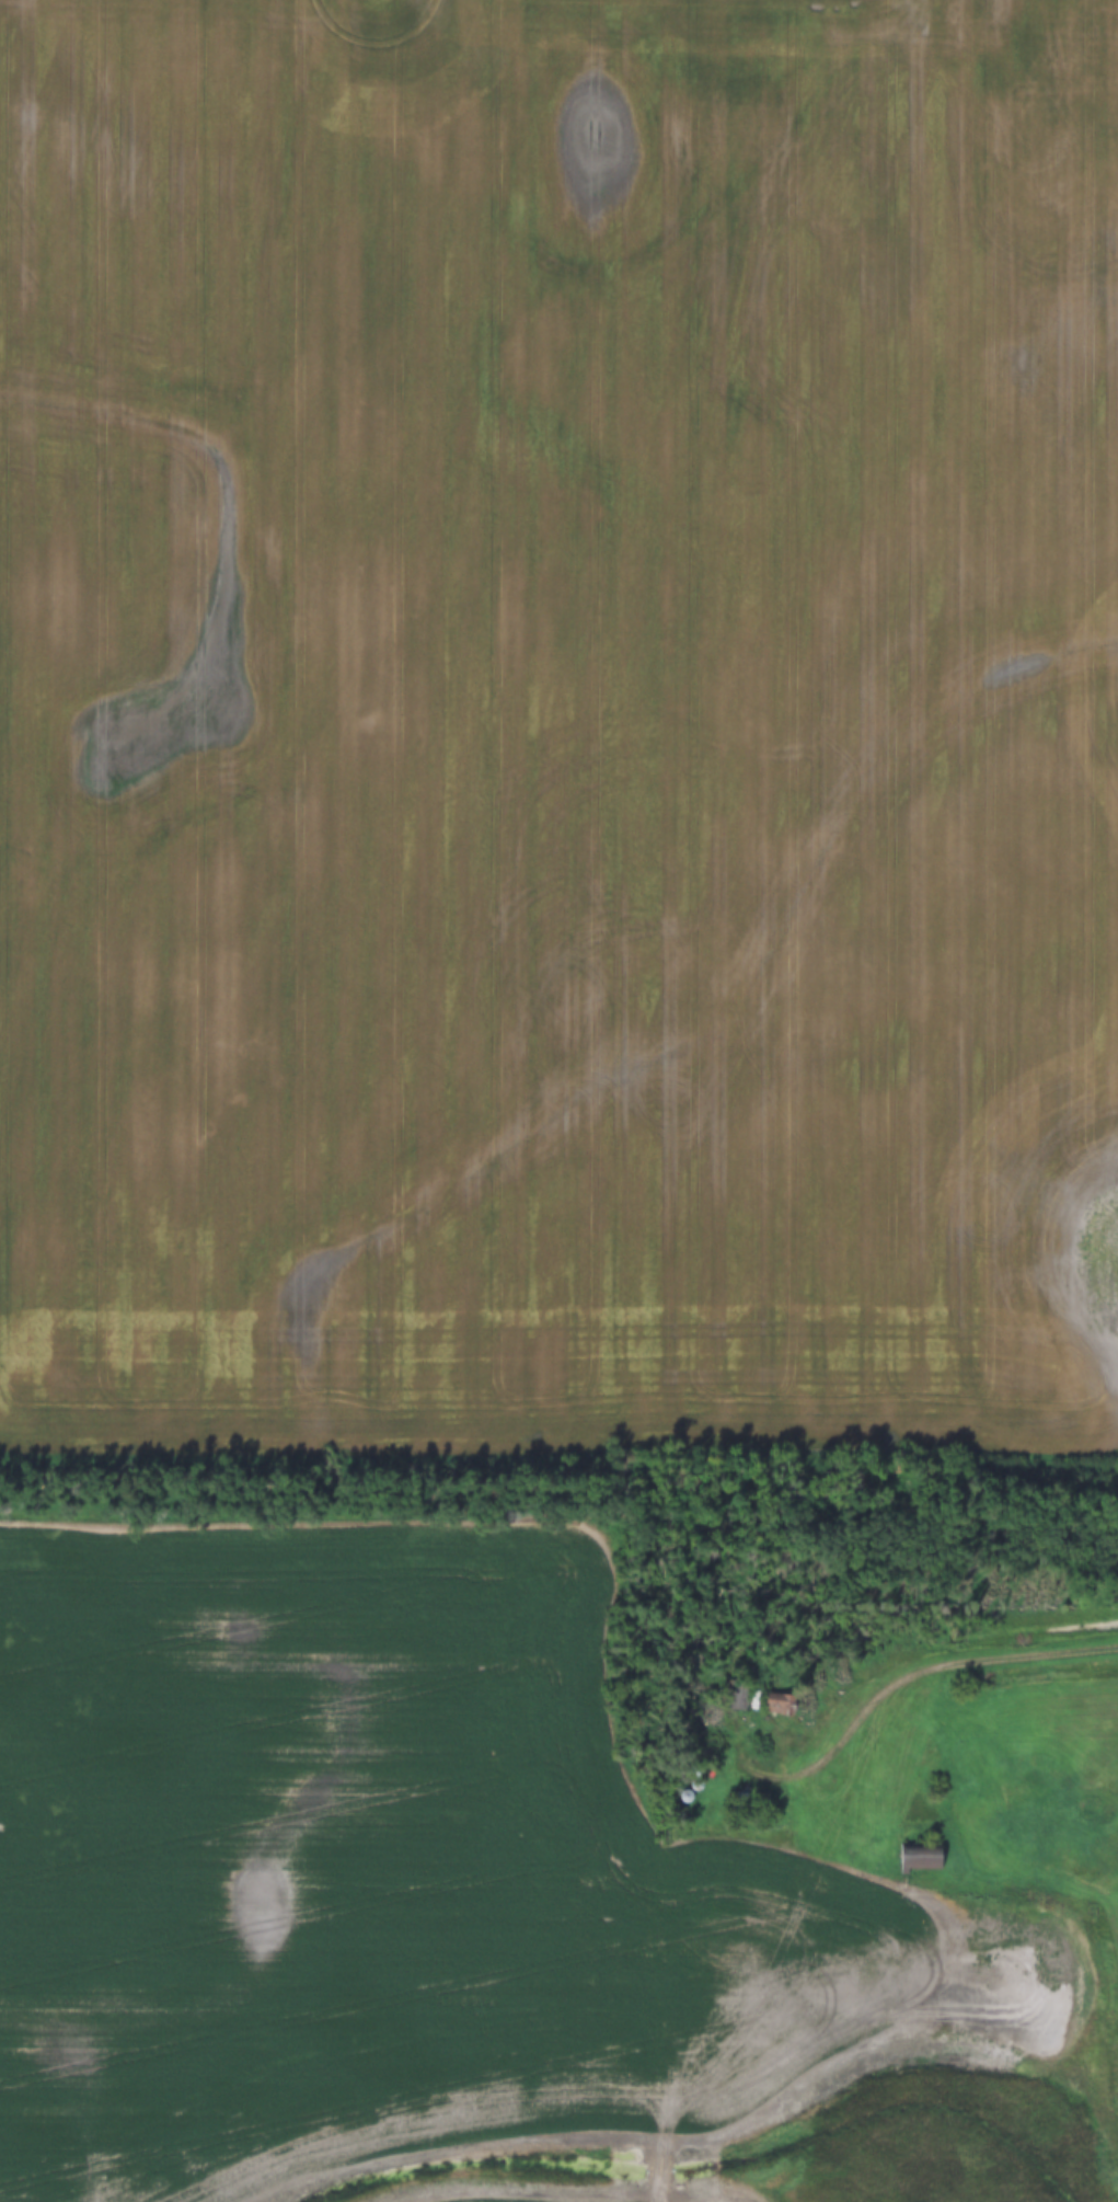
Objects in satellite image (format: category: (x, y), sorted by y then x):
road: (899, 1683)
building: (737, 1694)
building: (754, 1698)
building: (781, 1704)
building: (698, 1782)
silo: (698, 1782)
building: (682, 1794)
silo: (682, 1794)
building: (748, 1800)
building: (920, 1854)

